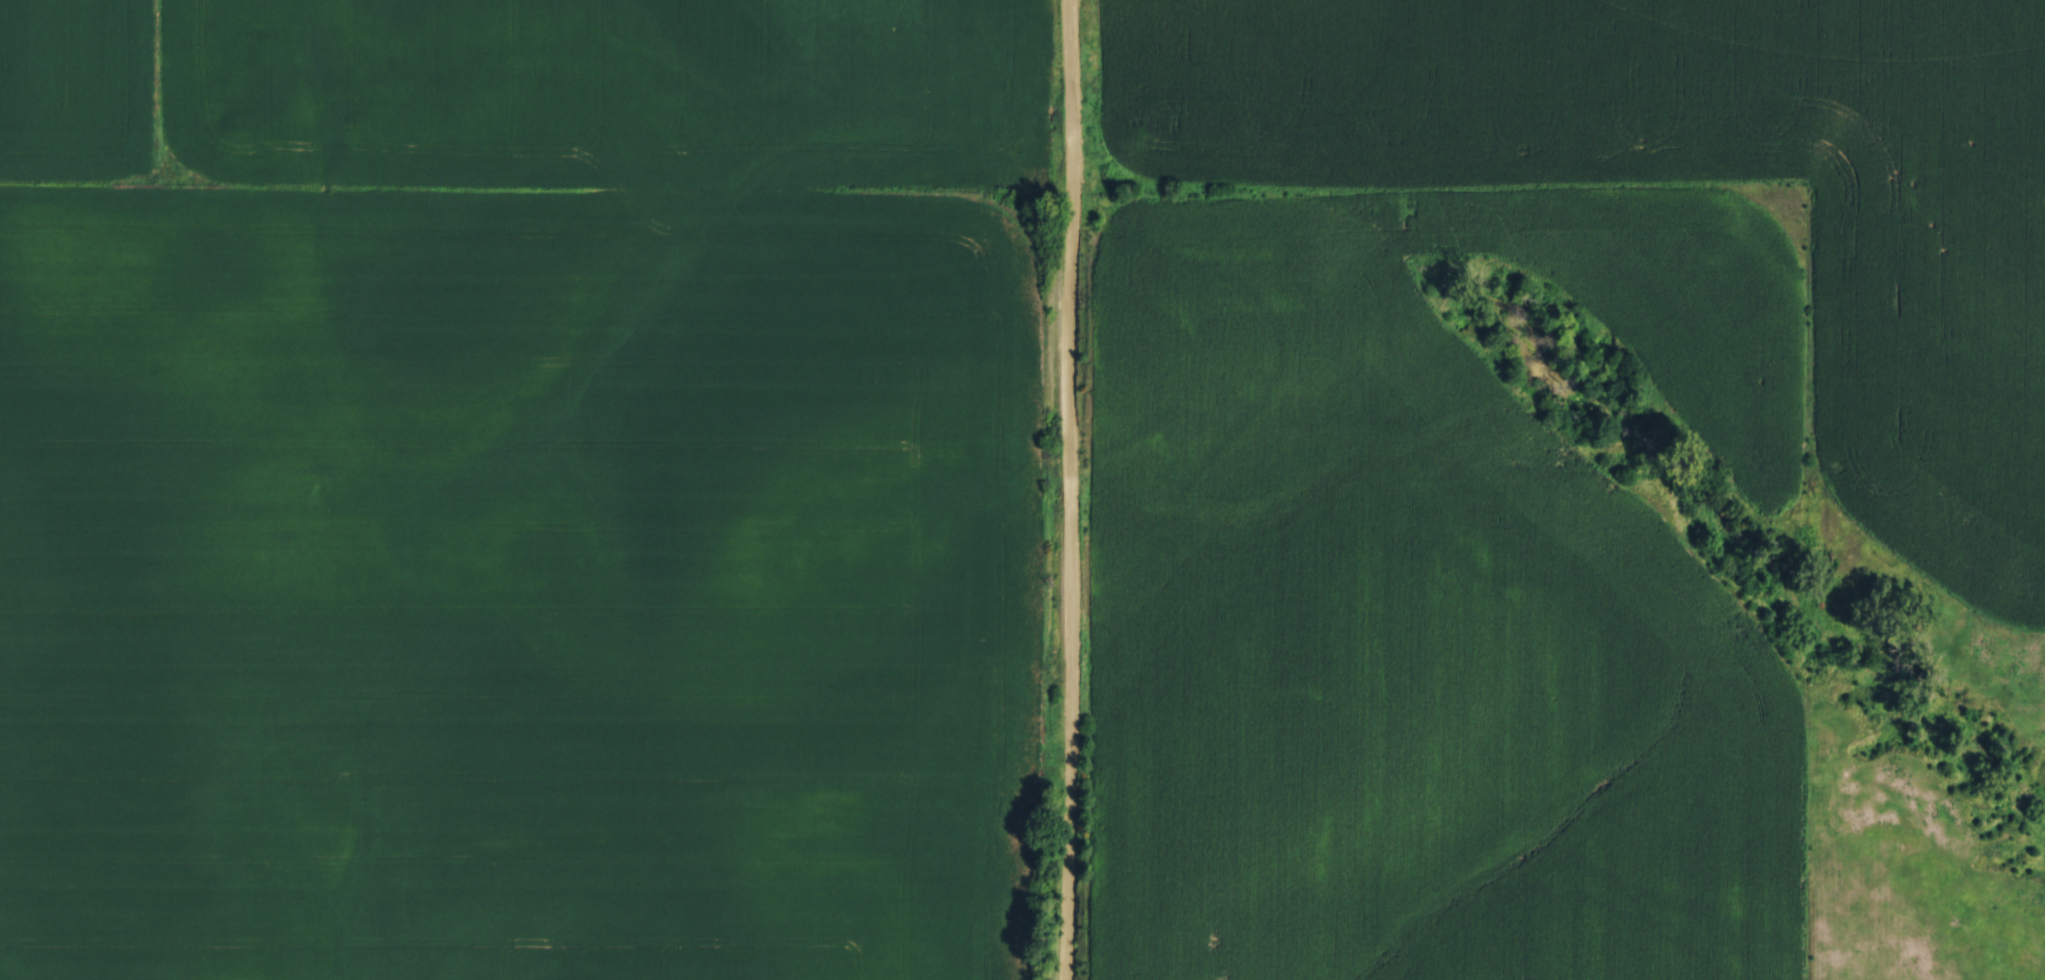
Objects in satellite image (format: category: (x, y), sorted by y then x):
road: (1068, 490)

